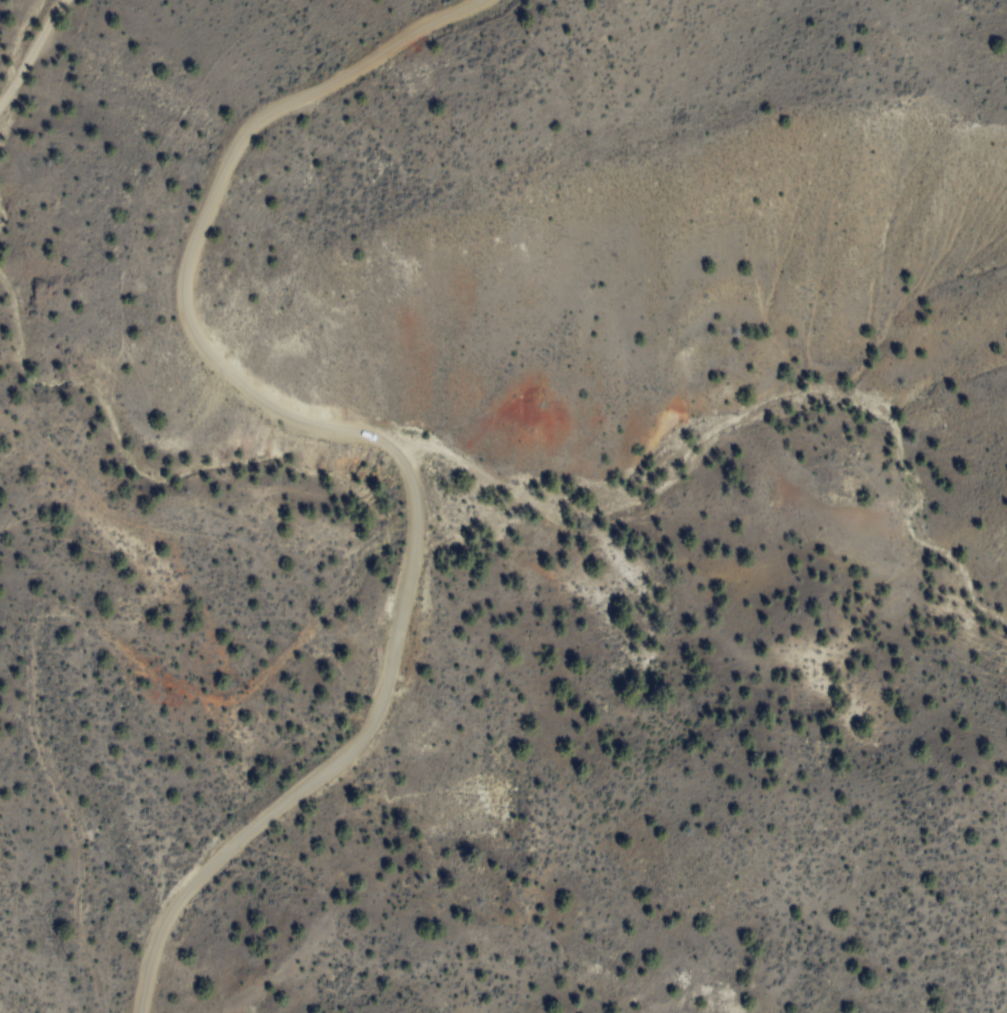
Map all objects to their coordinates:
road: (33, 49)
road: (372, 438)

